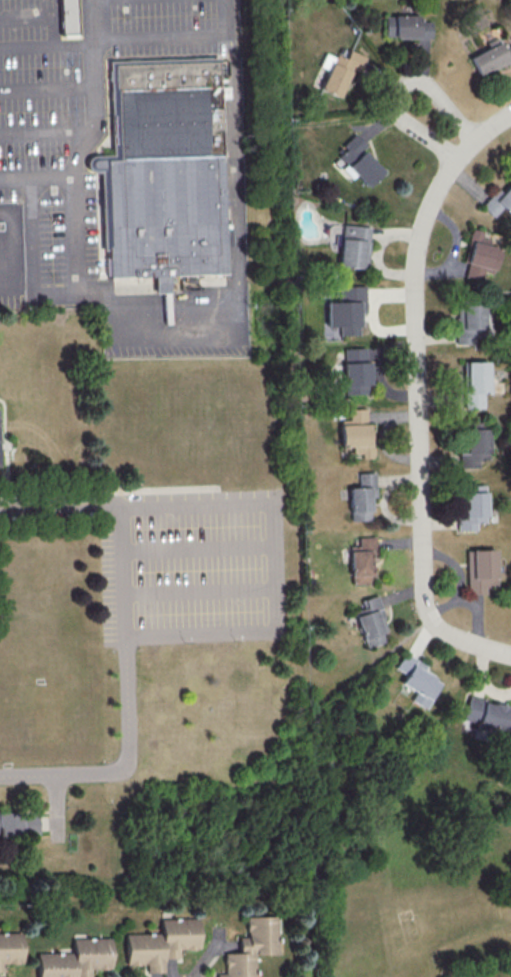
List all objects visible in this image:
road: (225, 16)
building: (70, 17)
building: (407, 26)
road: (98, 40)
road: (25, 46)
building: (491, 57)
building: (339, 71)
road: (399, 86)
road: (47, 90)
parking lot: (76, 120)
road: (46, 134)
road: (82, 144)
road: (237, 159)
building: (358, 161)
building: (165, 171)
road: (15, 178)
building: (500, 200)
road: (31, 213)
building: (353, 246)
road: (11, 248)
building: (479, 255)
road: (97, 290)
parking lot: (11, 293)
building: (346, 309)
road: (237, 312)
building: (468, 323)
road: (173, 337)
parking lot: (176, 341)
building: (355, 370)
building: (475, 383)
road: (417, 393)
building: (356, 432)
building: (474, 445)
building: (361, 496)
road: (62, 507)
building: (472, 507)
road: (201, 548)
building: (362, 561)
road: (277, 565)
road: (126, 570)
building: (479, 570)
road: (202, 590)
building: (370, 621)
building: (418, 681)
building: (488, 715)
road: (126, 764)
building: (17, 825)
building: (161, 943)
building: (251, 946)
building: (10, 948)
building: (75, 959)

